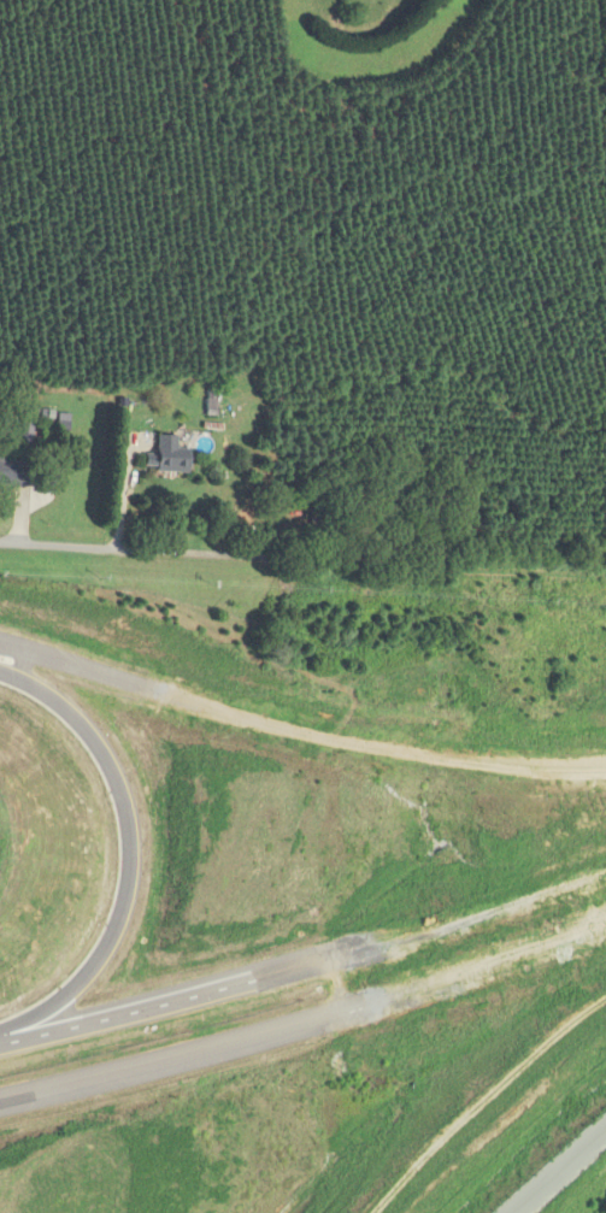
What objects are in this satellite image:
building: (161, 460)
building: (14, 473)
building: (313, 520)
road: (137, 559)
road: (134, 850)
road: (554, 1168)

